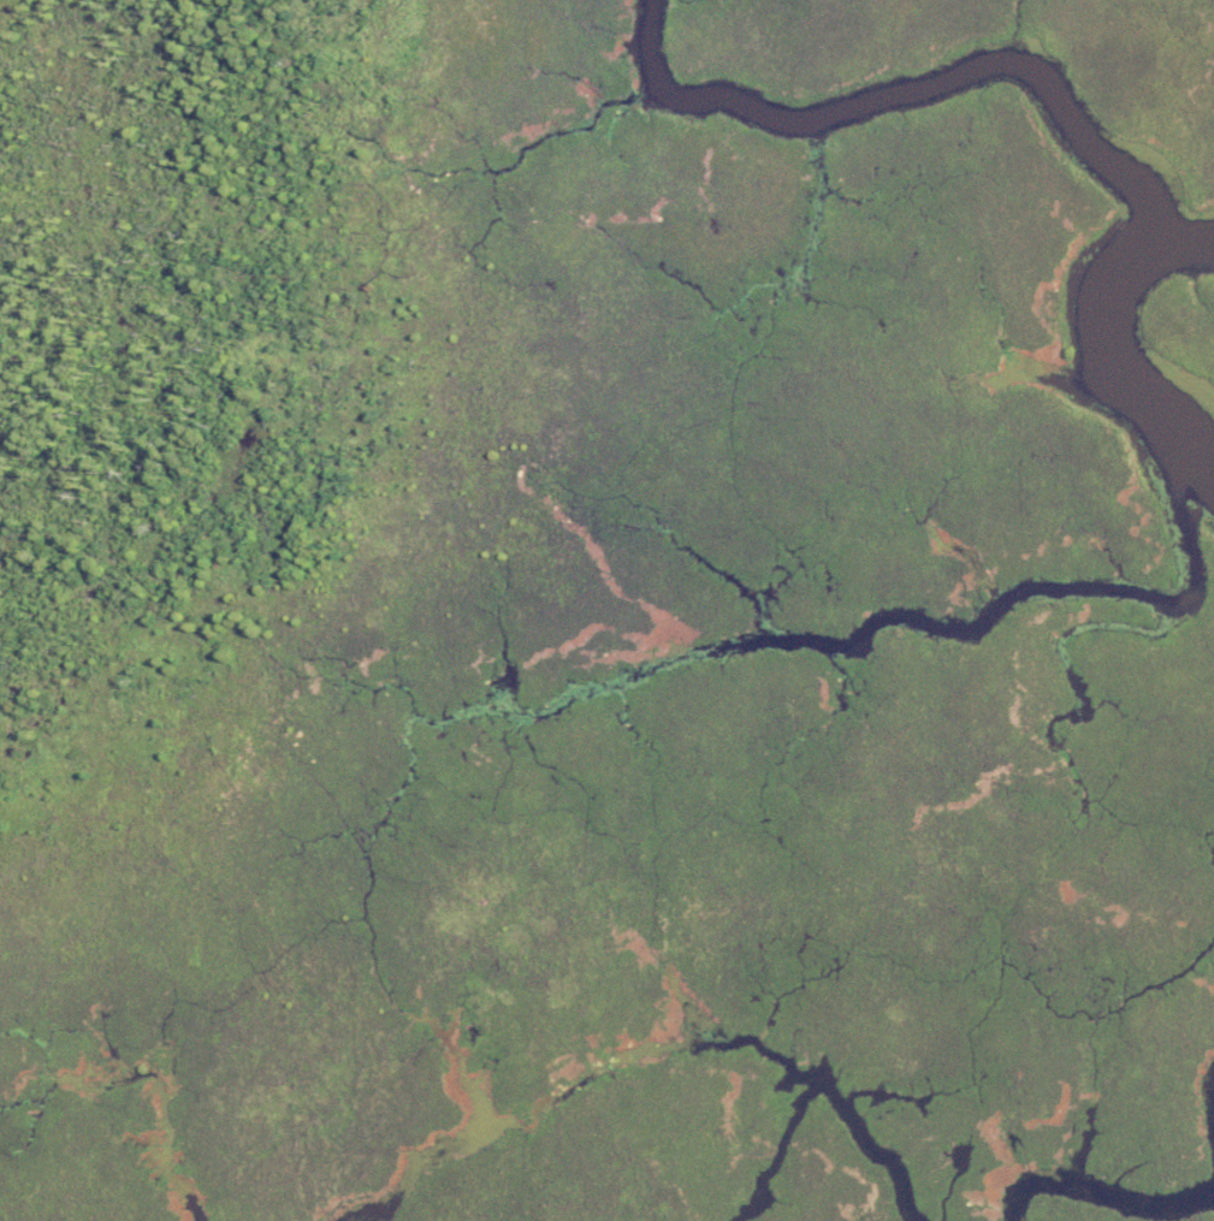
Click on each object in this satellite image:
river: (1101, 334)

